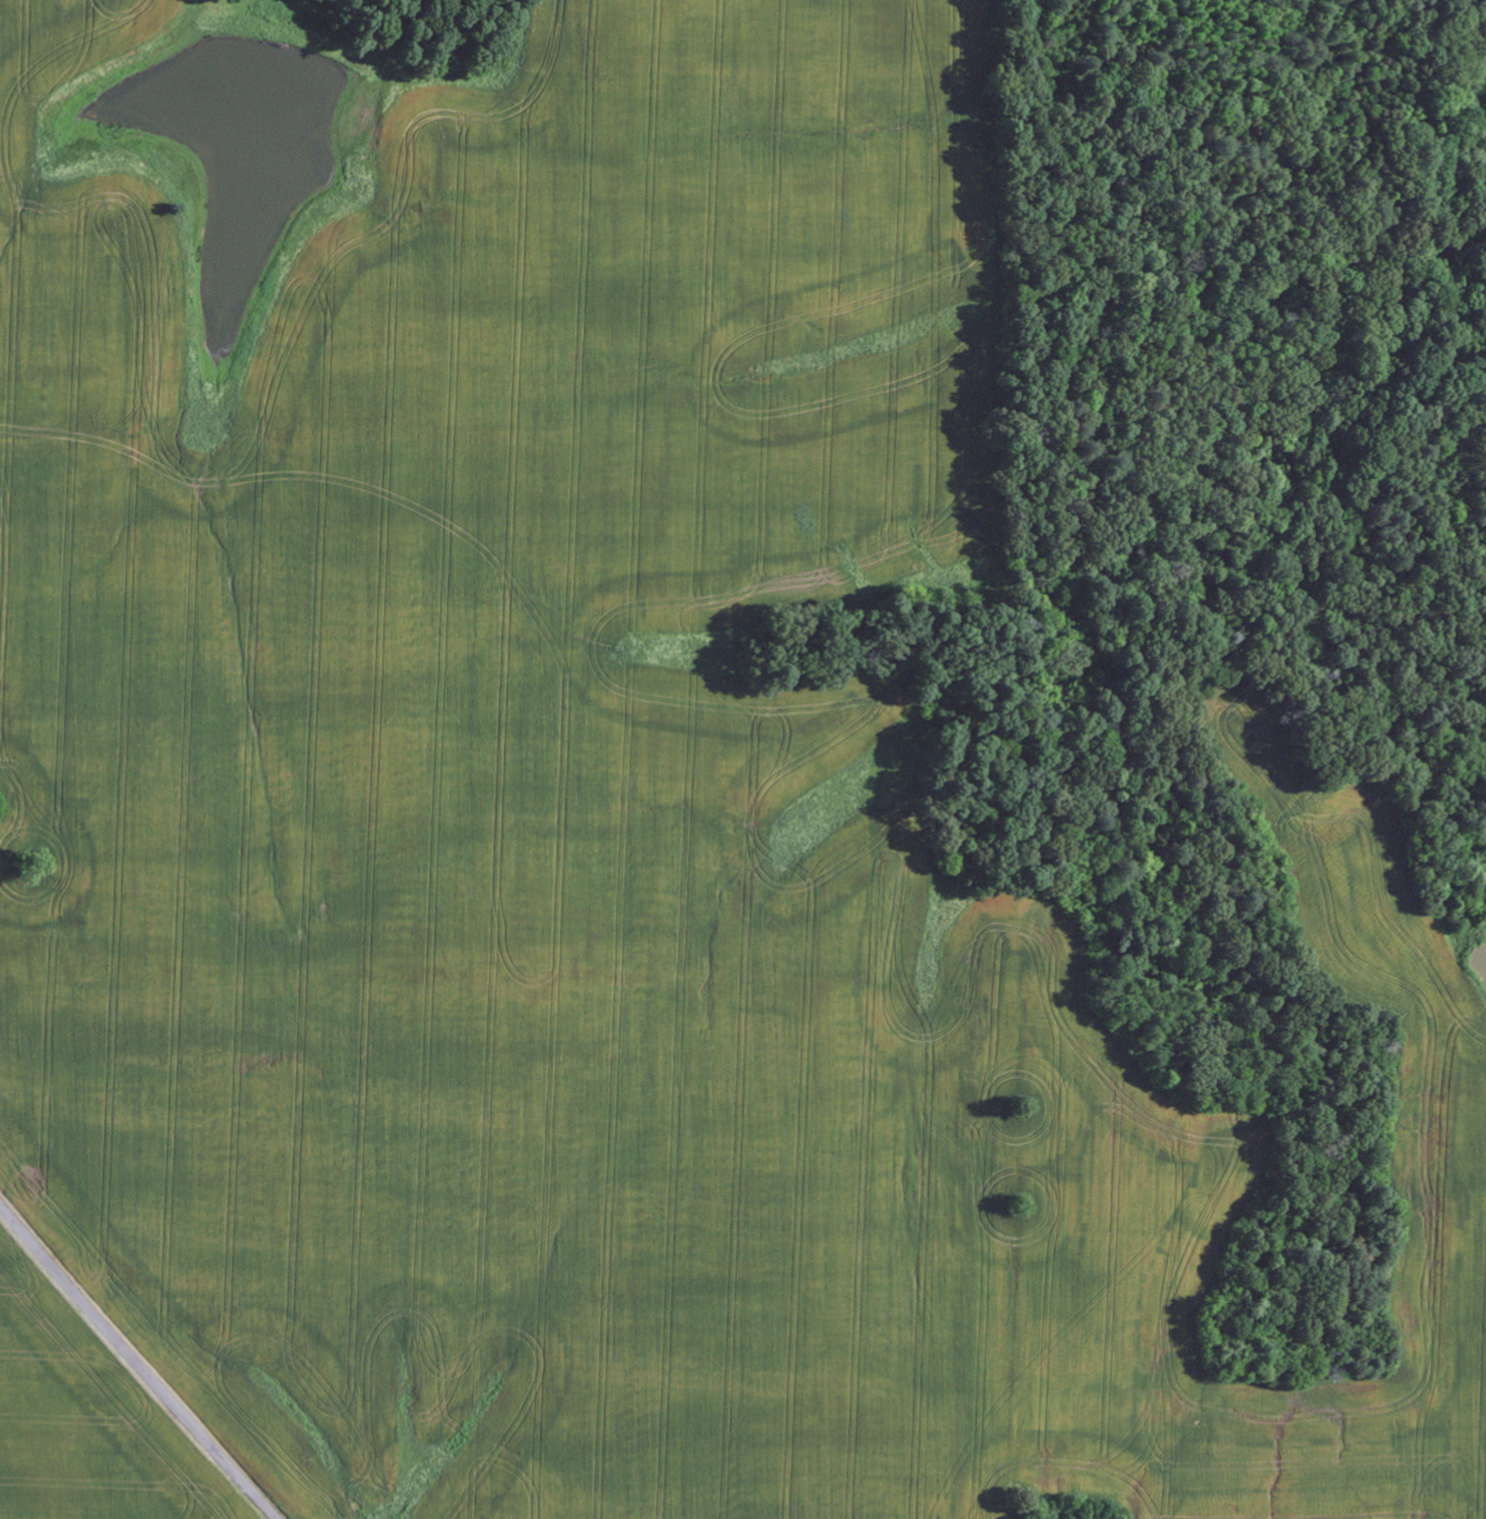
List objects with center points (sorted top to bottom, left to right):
road: (136, 1363)

